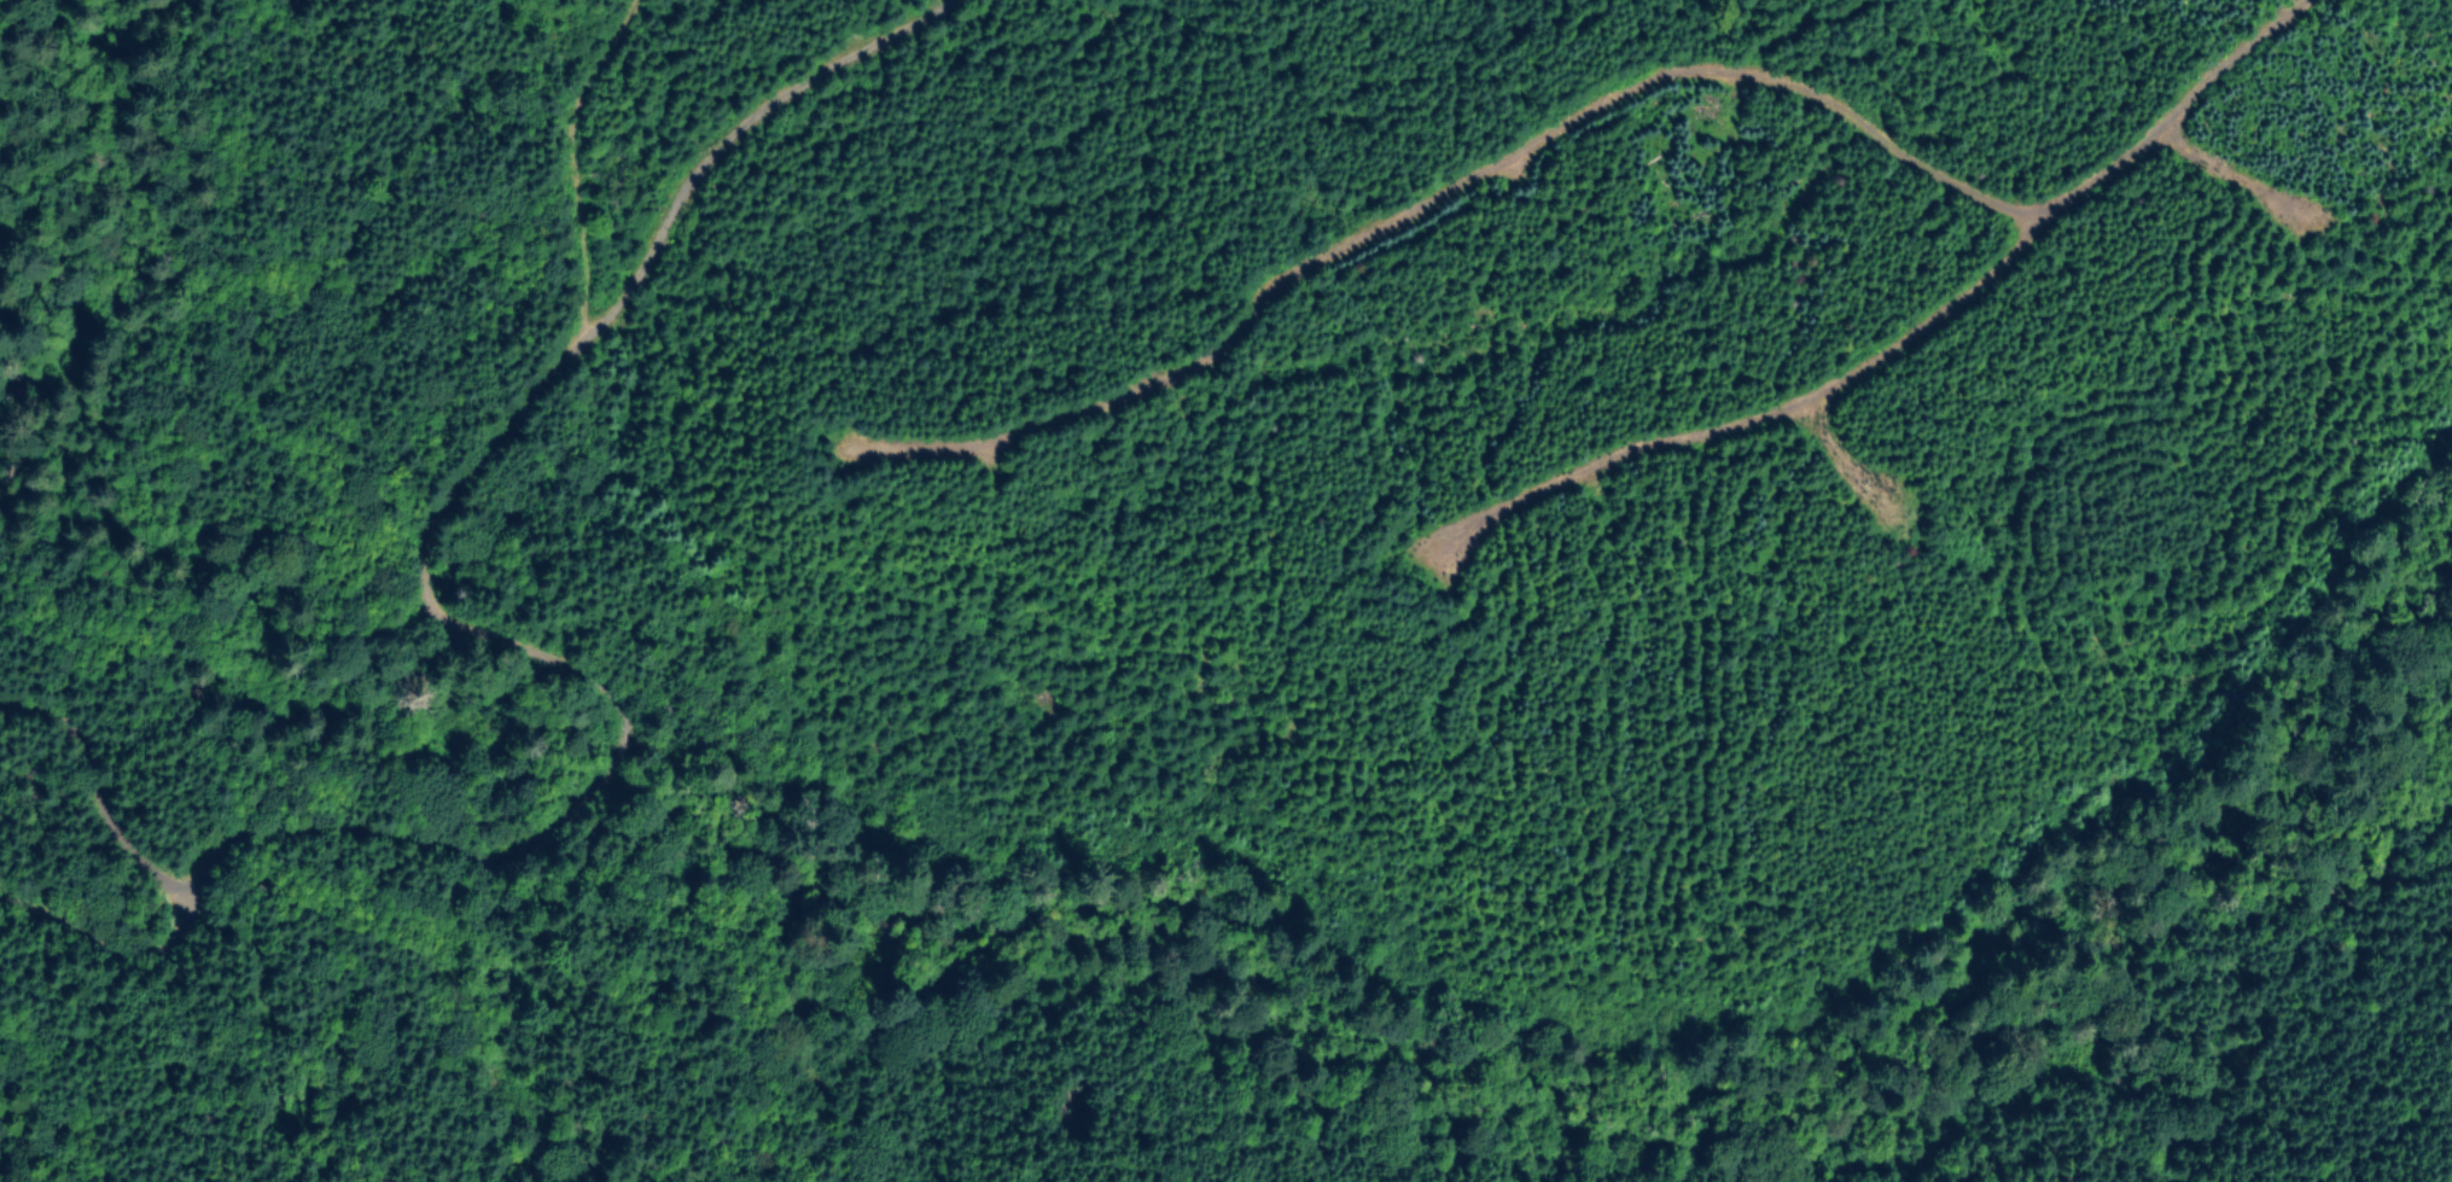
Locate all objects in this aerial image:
road: (144, 861)

